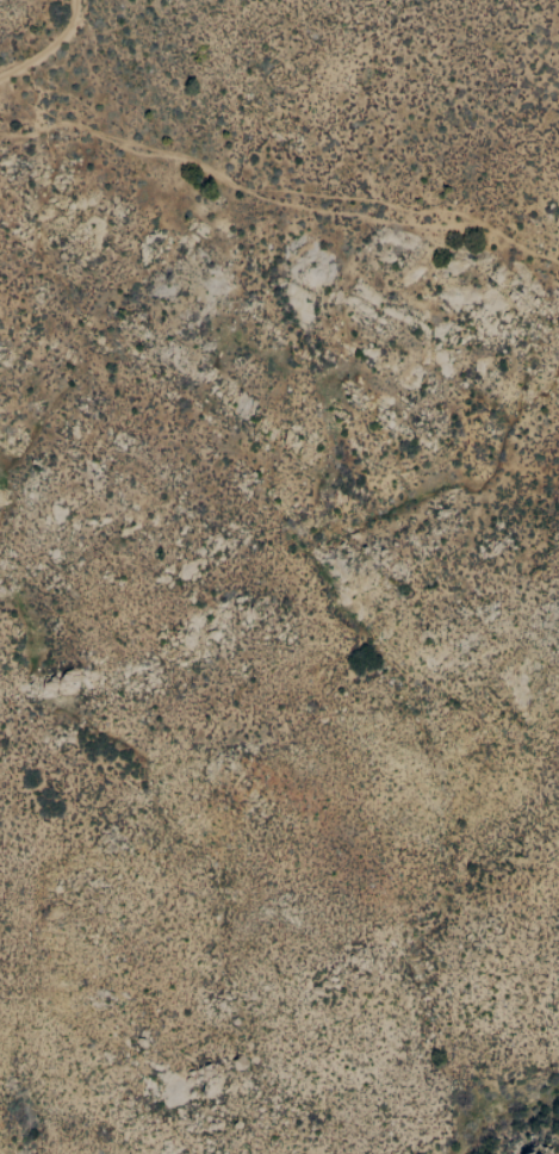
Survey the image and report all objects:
road: (56, 48)

